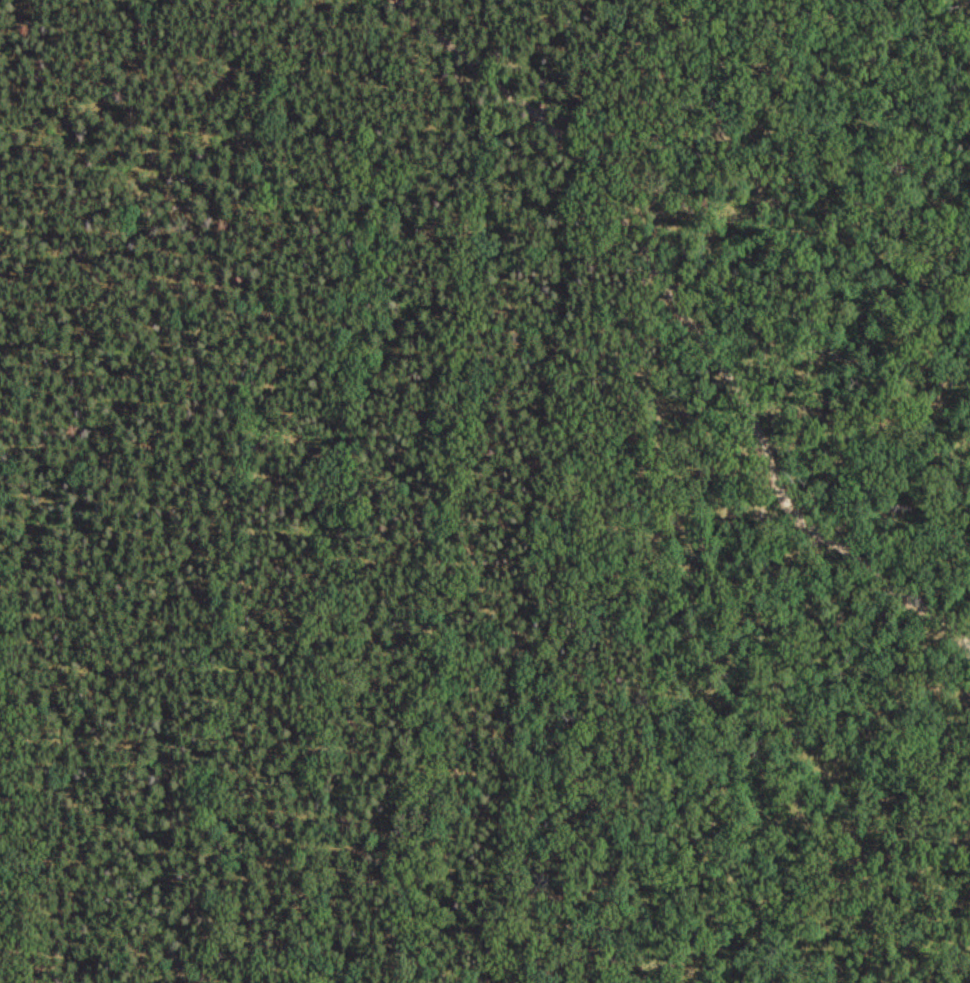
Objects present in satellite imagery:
road: (493, 195)

